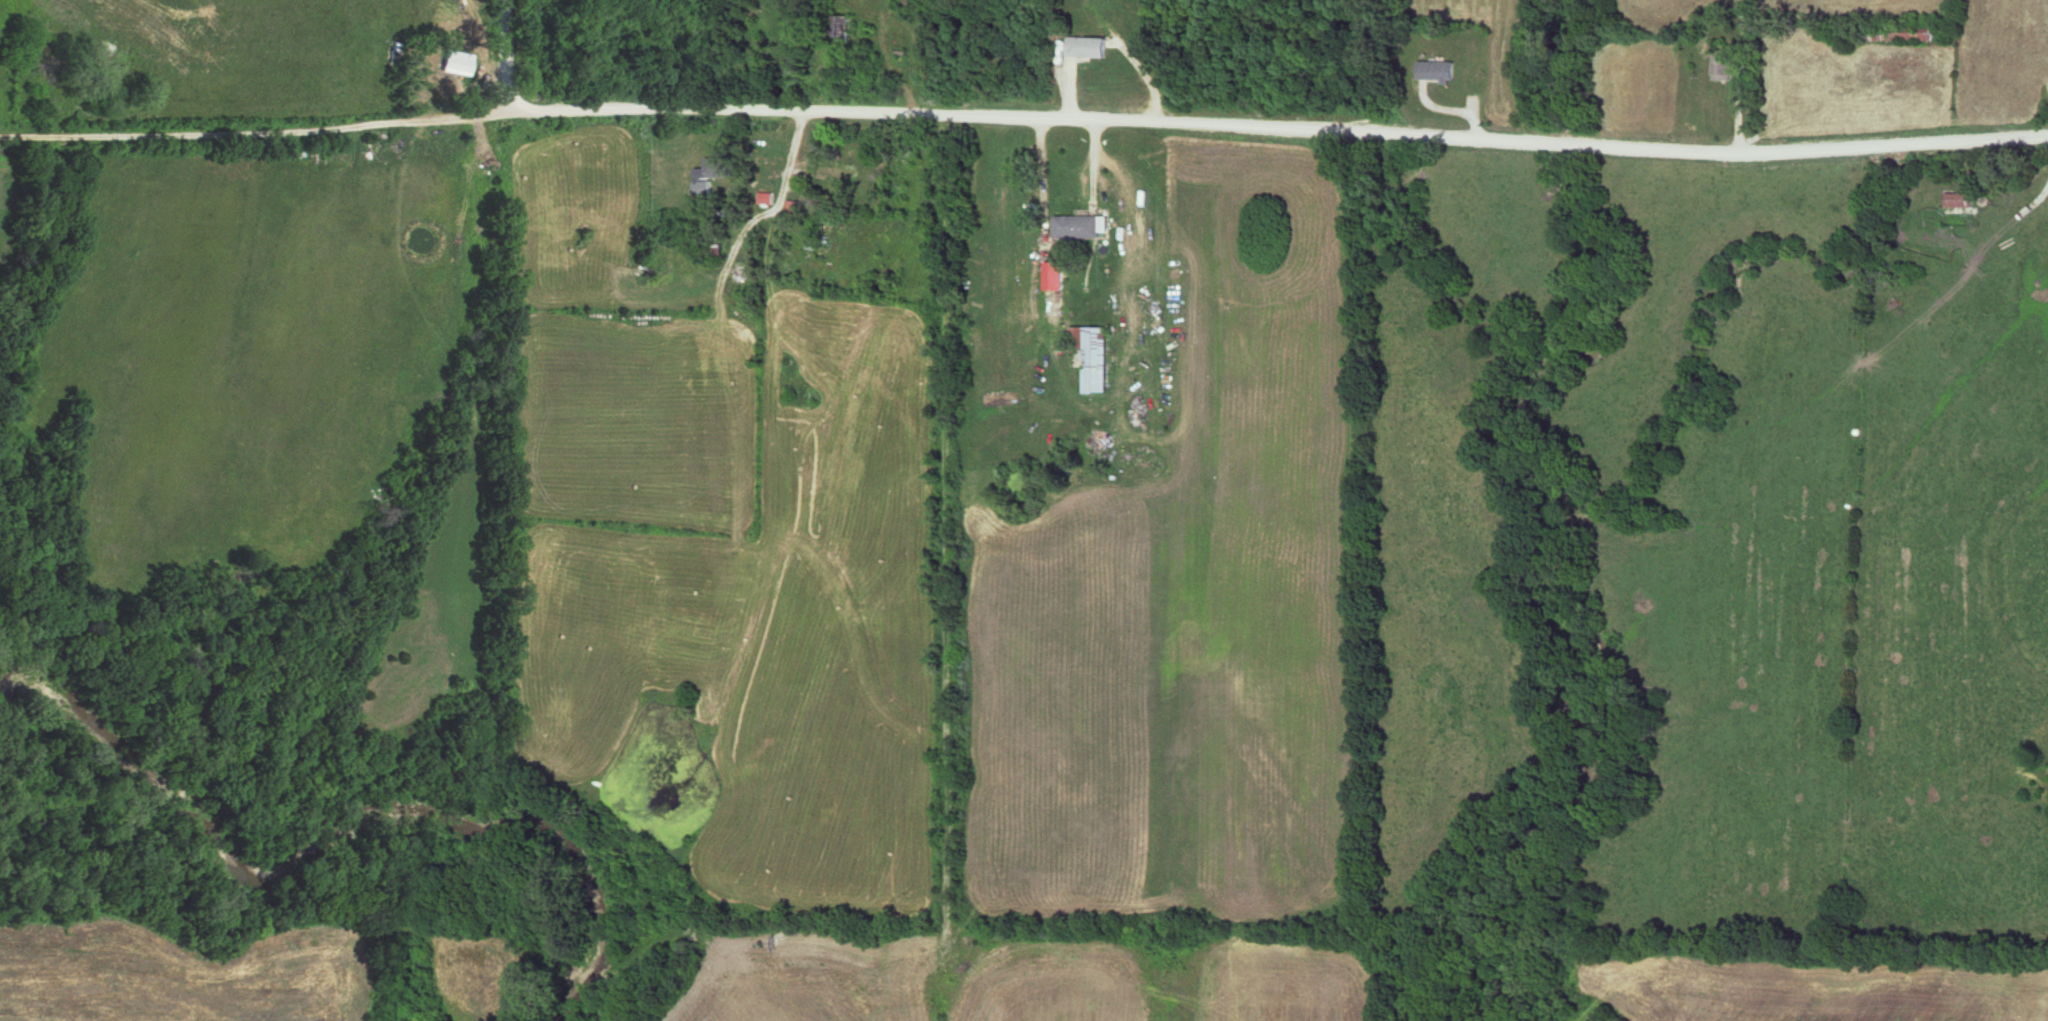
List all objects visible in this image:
building: (846, 26)
building: (1087, 47)
road: (505, 59)
building: (1721, 66)
building: (1433, 70)
road: (1024, 121)
building: (722, 166)
building: (836, 173)
building: (766, 198)
road: (782, 199)
building: (1957, 200)
building: (1080, 226)
building: (821, 239)
building: (713, 248)
building: (1094, 358)

